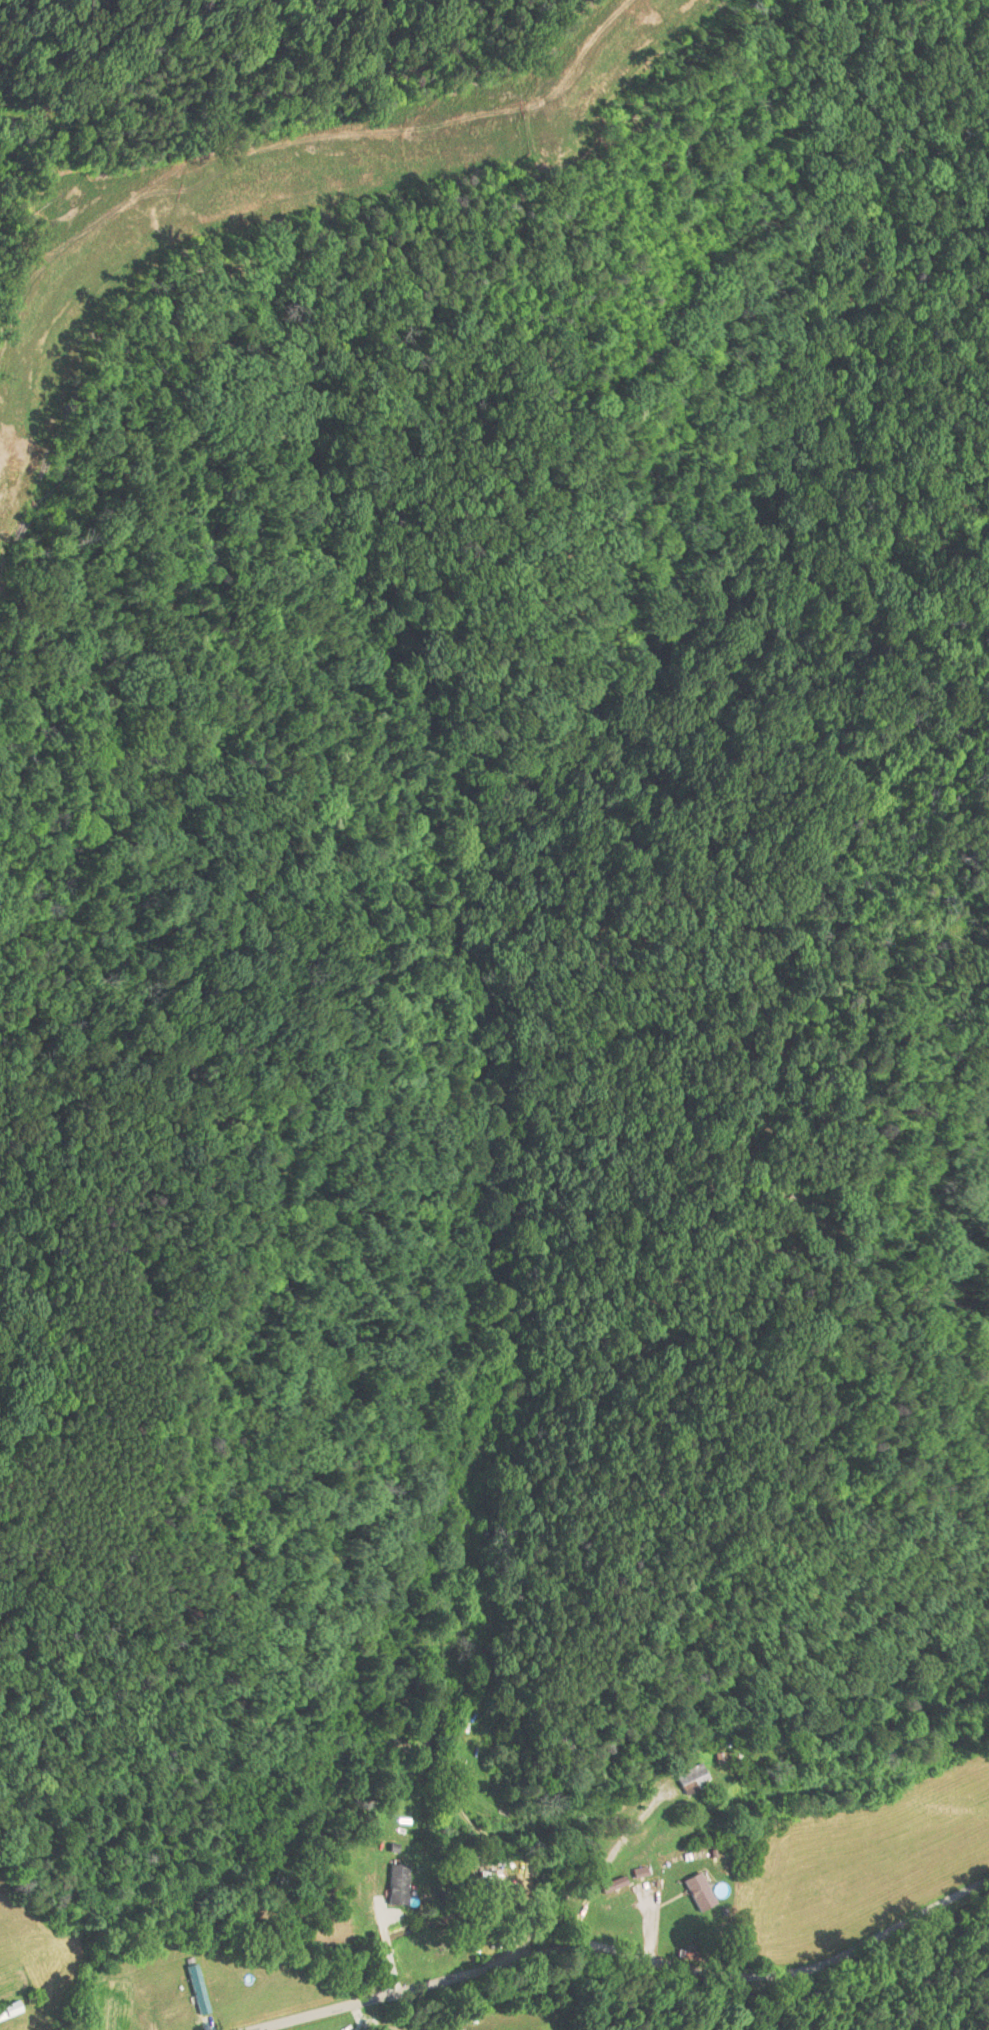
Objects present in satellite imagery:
building: (691, 1778)
building: (491, 1864)
building: (396, 1884)
building: (698, 1891)
road: (626, 1950)
building: (9, 2009)

